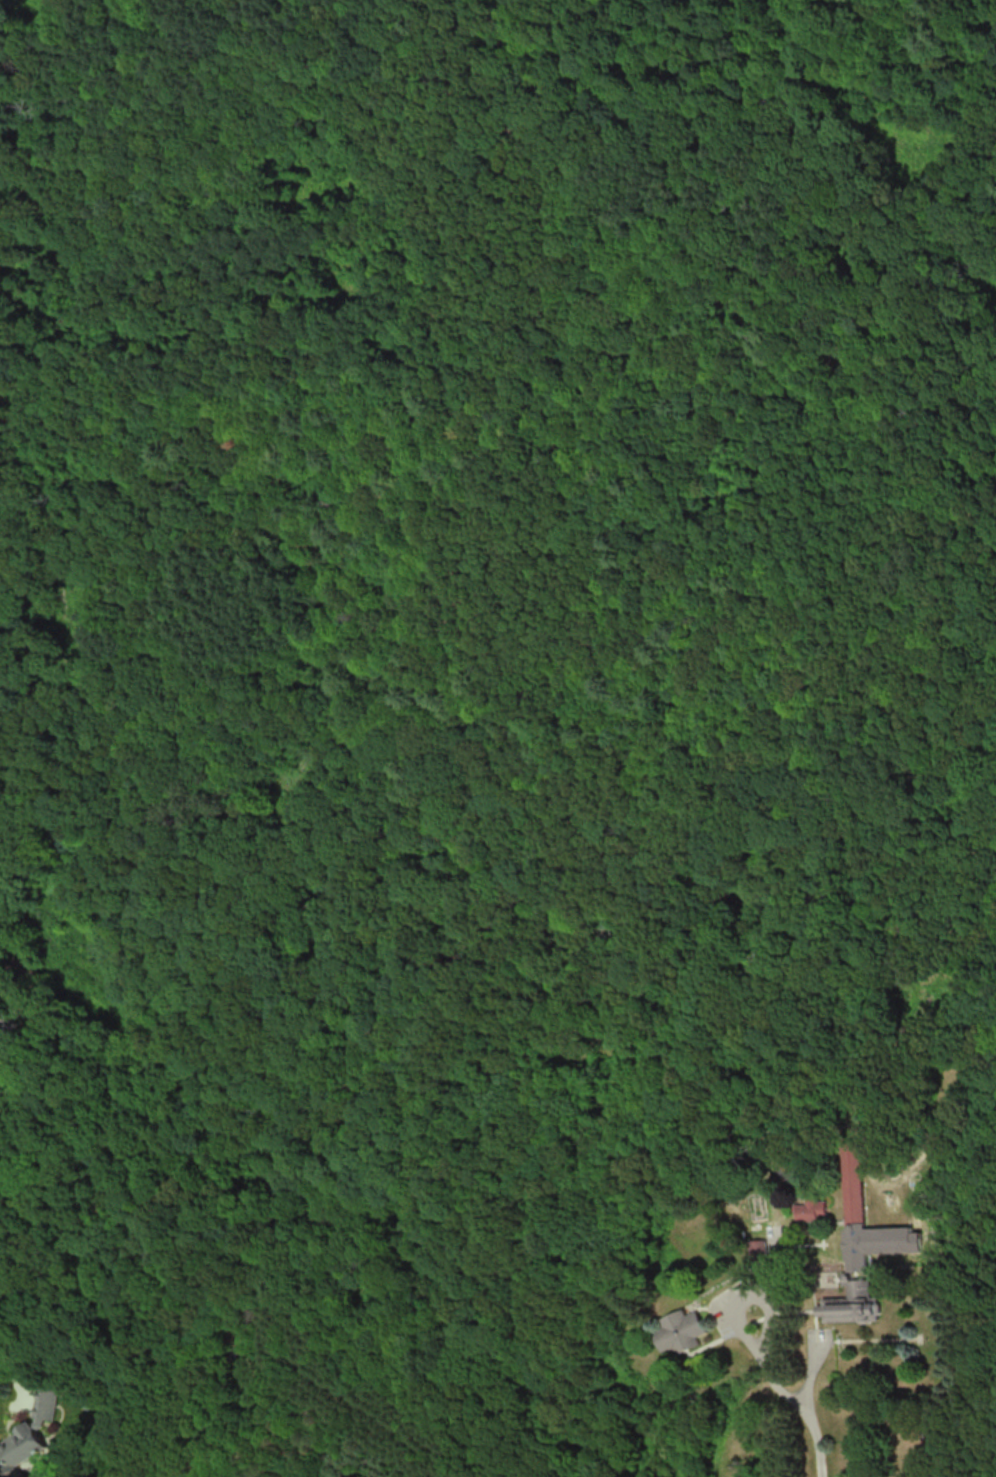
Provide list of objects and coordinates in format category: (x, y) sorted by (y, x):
building: (853, 1187)
building: (811, 1210)
building: (918, 1241)
road: (775, 1274)
road: (752, 1302)
building: (836, 1308)
building: (680, 1330)
road: (12, 1379)
road: (806, 1413)
building: (20, 1446)

